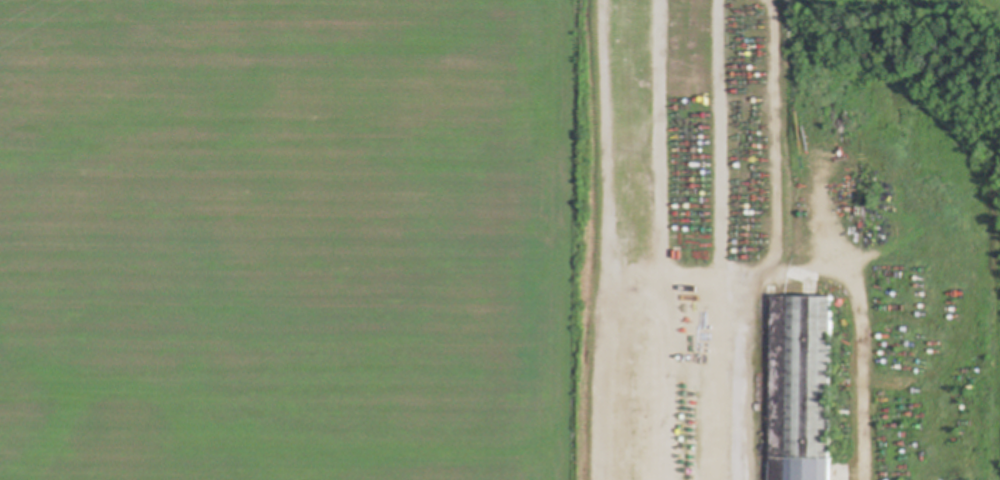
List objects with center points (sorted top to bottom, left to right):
road: (670, 139)
road: (730, 141)
road: (782, 153)
road: (613, 199)
road: (869, 335)
road: (742, 381)
building: (803, 389)

